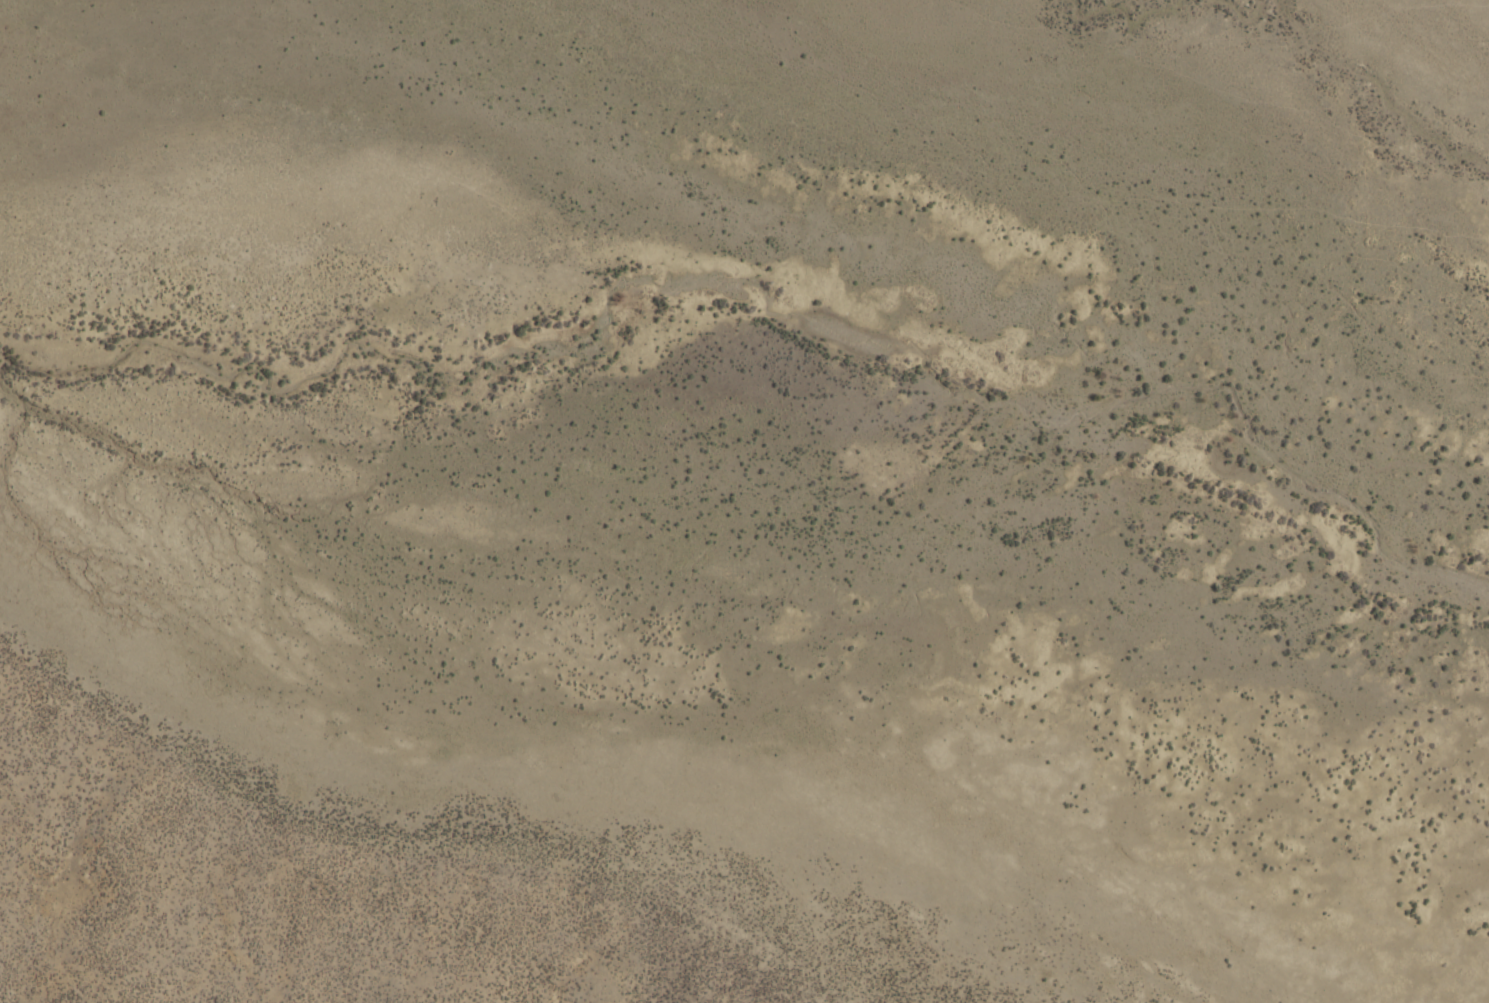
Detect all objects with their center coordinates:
river: (758, 346)

